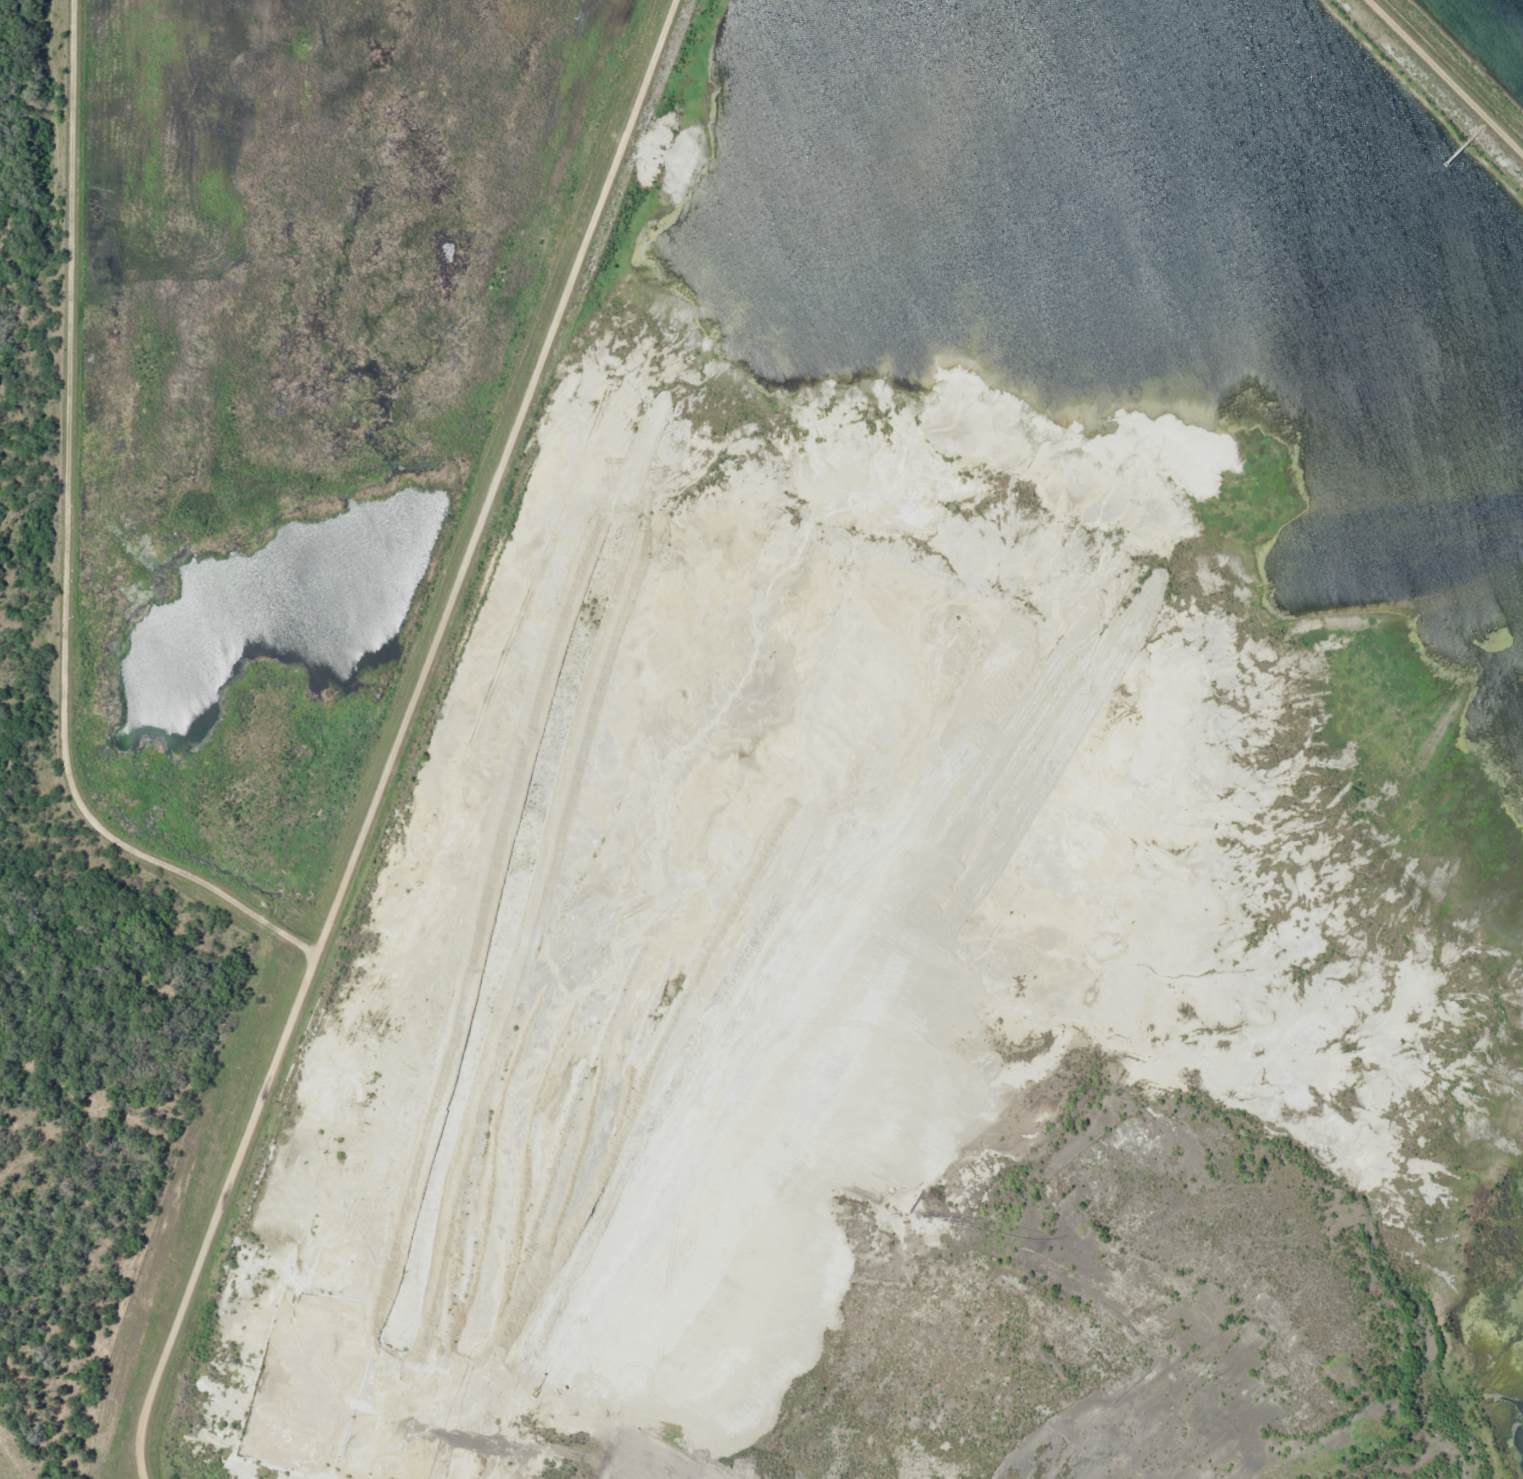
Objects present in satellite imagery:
road: (1443, 79)
road: (397, 737)
power plant: (761, 739)

